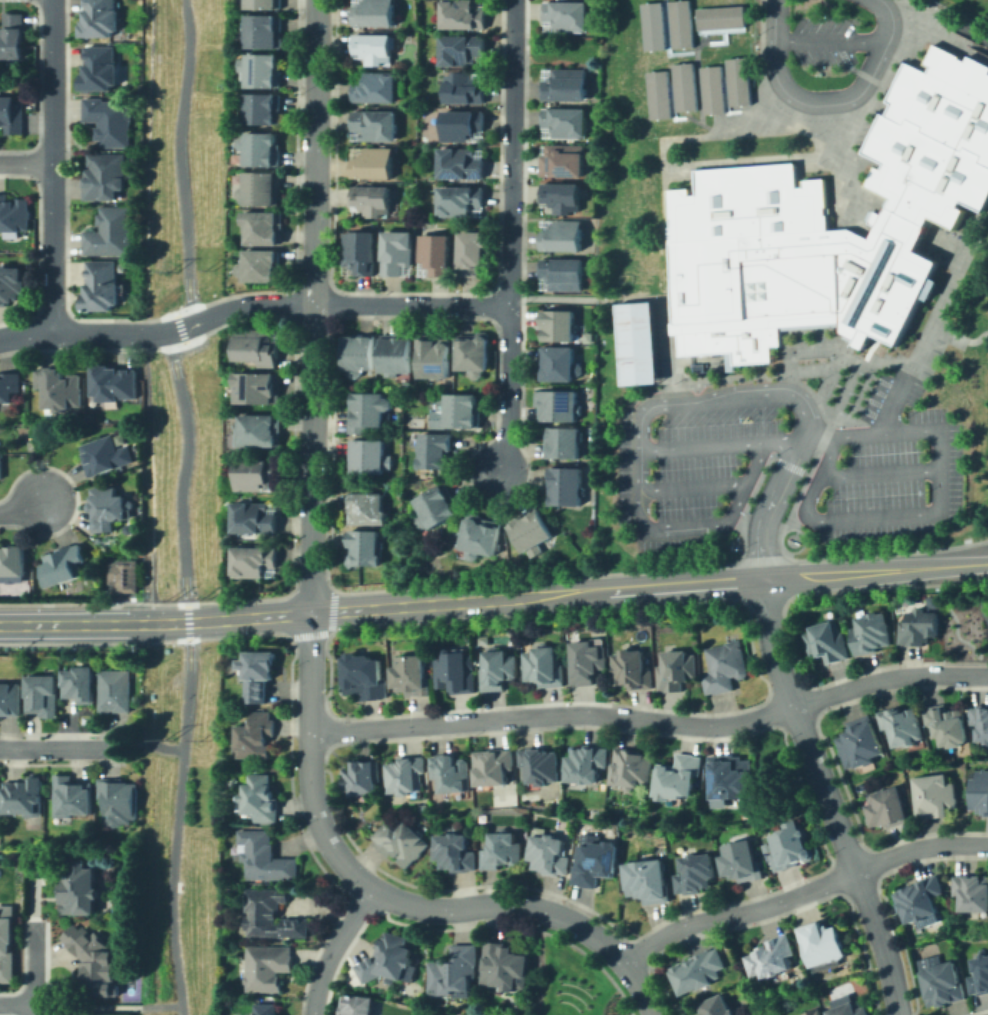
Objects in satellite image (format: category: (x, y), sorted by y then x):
building: (265, 2)
building: (370, 9)
road: (922, 9)
building: (460, 11)
building: (564, 12)
building: (98, 16)
building: (719, 16)
building: (681, 23)
building: (651, 24)
building: (263, 26)
road: (965, 28)
building: (14, 36)
road: (779, 39)
parking lot: (824, 39)
road: (832, 41)
building: (371, 43)
building: (459, 43)
road: (696, 48)
road: (606, 62)
building: (261, 65)
building: (103, 67)
building: (564, 80)
building: (736, 80)
building: (373, 84)
building: (461, 84)
building: (683, 86)
building: (710, 88)
road: (861, 88)
building: (657, 94)
building: (263, 103)
road: (729, 111)
building: (13, 113)
building: (564, 116)
road: (685, 116)
building: (461, 119)
building: (110, 120)
building: (372, 120)
road: (766, 121)
building: (261, 144)
park: (180, 152)
building: (561, 156)
road: (830, 158)
building: (370, 159)
road: (25, 161)
building: (457, 161)
road: (51, 165)
road: (144, 165)
building: (107, 176)
building: (260, 183)
building: (560, 191)
building: (369, 196)
building: (458, 196)
building: (745, 203)
building: (825, 210)
building: (14, 215)
building: (871, 216)
road: (664, 219)
building: (263, 223)
building: (112, 232)
building: (560, 233)
road: (512, 236)
building: (357, 246)
building: (395, 248)
building: (474, 248)
building: (434, 249)
building: (259, 267)
building: (561, 269)
building: (105, 285)
building: (13, 286)
building: (927, 287)
road: (944, 293)
road: (590, 298)
road: (253, 302)
building: (557, 321)
building: (807, 325)
building: (673, 327)
building: (845, 336)
road: (958, 339)
park: (643, 340)
building: (635, 344)
building: (258, 345)
road: (866, 349)
building: (356, 350)
building: (470, 350)
building: (393, 351)
road: (838, 352)
building: (431, 354)
building: (557, 359)
building: (728, 360)
building: (696, 366)
road: (830, 371)
road: (713, 376)
road: (786, 380)
road: (862, 383)
building: (11, 385)
building: (117, 385)
building: (63, 387)
building: (259, 387)
road: (858, 394)
road: (855, 399)
parking lot: (871, 399)
building: (557, 401)
road: (852, 404)
building: (457, 405)
road: (891, 405)
road: (655, 407)
building: (366, 411)
road: (823, 417)
building: (261, 430)
road: (973, 435)
road: (819, 436)
building: (562, 438)
road: (705, 445)
building: (433, 448)
road: (311, 454)
building: (110, 455)
parking lot: (703, 455)
building: (367, 456)
road: (812, 461)
building: (1, 465)
road: (788, 465)
road: (636, 466)
park: (180, 470)
parking lot: (886, 470)
road: (877, 473)
building: (261, 475)
road: (149, 477)
building: (563, 481)
road: (751, 492)
road: (773, 493)
road: (182, 497)
building: (436, 506)
road: (22, 509)
building: (111, 510)
building: (367, 510)
road: (917, 512)
building: (257, 518)
building: (529, 529)
building: (485, 537)
road: (742, 537)
building: (366, 547)
road: (888, 552)
road: (761, 558)
building: (250, 560)
building: (14, 562)
building: (62, 565)
road: (664, 568)
building: (128, 575)
road: (571, 593)
road: (982, 593)
road: (77, 624)
building: (919, 624)
building: (870, 630)
building: (825, 639)
building: (584, 658)
building: (545, 665)
building: (723, 665)
building: (630, 666)
building: (675, 667)
building: (500, 669)
building: (455, 671)
building: (259, 672)
building: (413, 672)
building: (366, 676)
building: (80, 685)
building: (116, 691)
building: (42, 696)
building: (10, 700)
building: (980, 718)
road: (652, 720)
building: (900, 722)
building: (945, 722)
building: (258, 735)
building: (858, 740)
road: (150, 743)
road: (58, 748)
building: (543, 764)
building: (589, 764)
building: (637, 766)
building: (493, 767)
building: (408, 774)
building: (451, 774)
building: (679, 774)
building: (729, 774)
building: (365, 777)
building: (979, 789)
building: (934, 793)
building: (25, 796)
building: (72, 797)
building: (260, 797)
road: (829, 797)
building: (122, 801)
building: (886, 807)
park: (179, 826)
building: (405, 841)
building: (789, 845)
building: (504, 851)
building: (455, 853)
building: (551, 853)
building: (266, 858)
building: (740, 859)
building: (597, 865)
building: (700, 873)
building: (648, 881)
building: (81, 888)
building: (970, 889)
road: (802, 892)
building: (919, 896)
road: (535, 904)
building: (271, 914)
building: (819, 941)
building: (5, 942)
road: (335, 948)
building: (390, 957)
building: (777, 957)
building: (99, 964)
road: (36, 965)
building: (269, 967)
building: (505, 967)
building: (458, 971)
building: (698, 971)
building: (979, 973)
park: (567, 982)
building: (941, 983)
building: (355, 1005)
road: (161, 1006)
building: (722, 1006)
road: (18, 1007)
road: (87, 1007)
building: (268, 1009)
road: (639, 1009)
building: (852, 1009)
road: (36, 1011)
park: (447, 1012)
building: (813, 1012)

